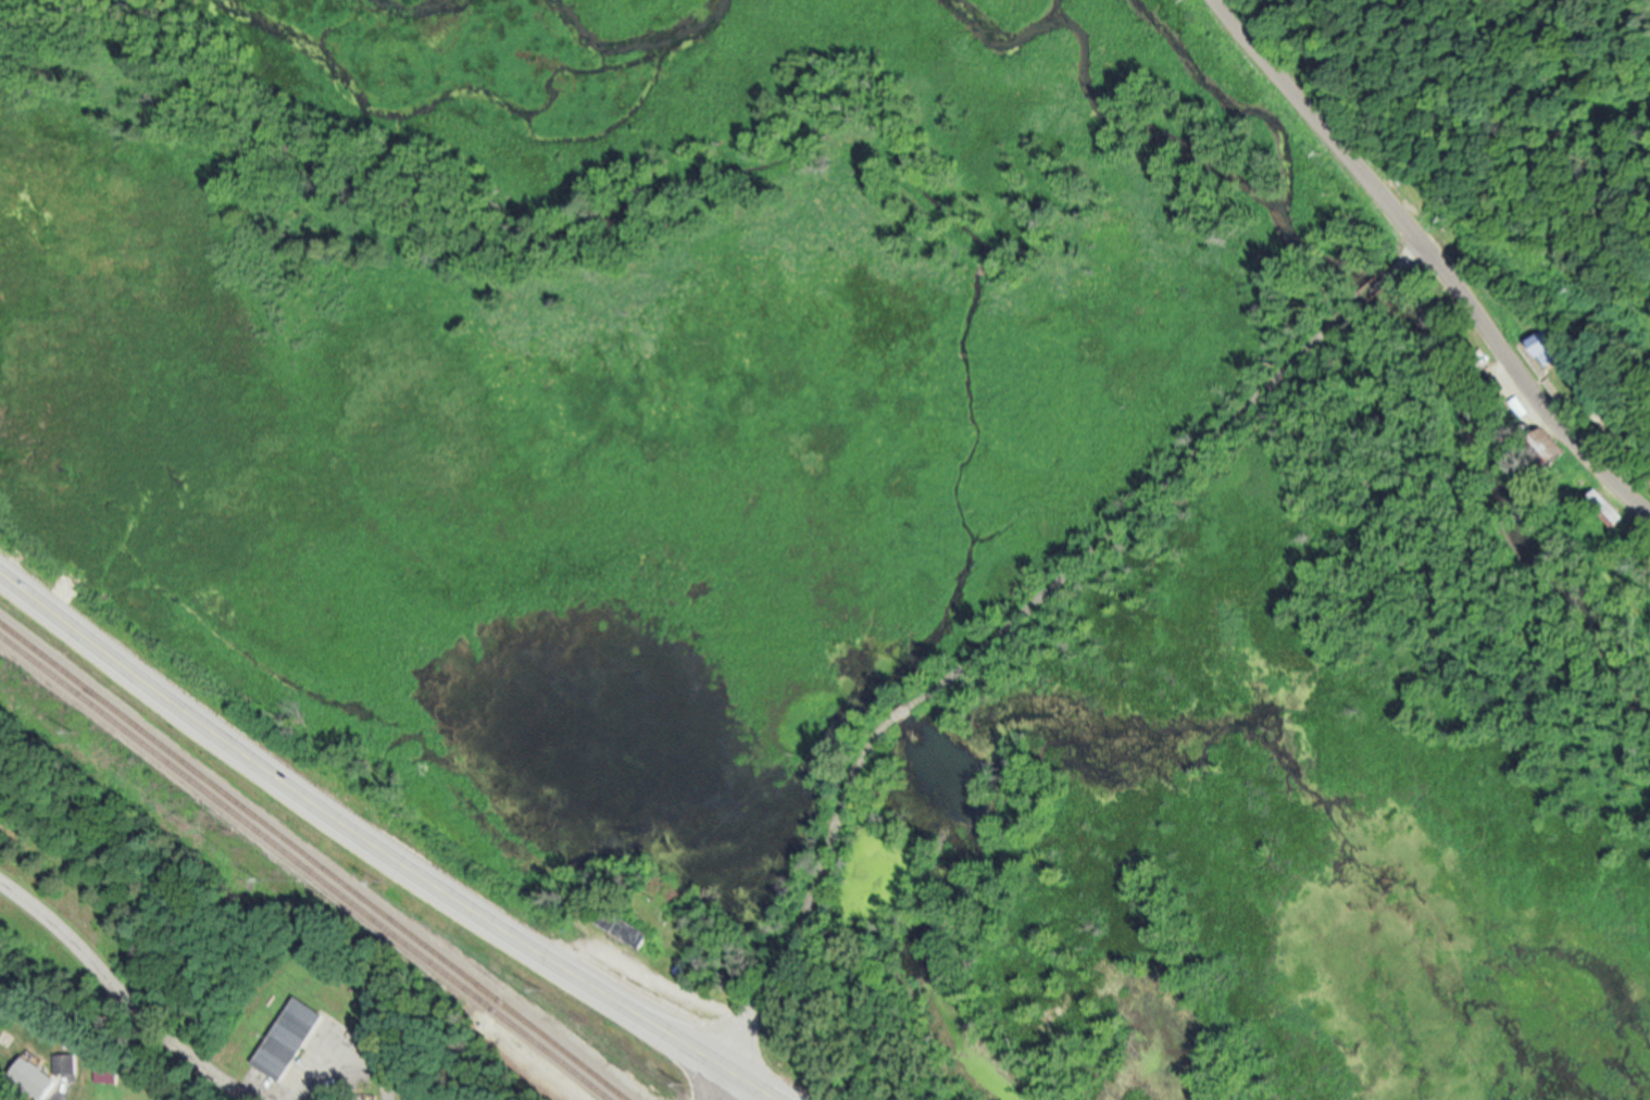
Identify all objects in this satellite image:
road: (1320, 123)
building: (1547, 343)
road: (1527, 387)
building: (1604, 507)
road: (1017, 616)
road: (382, 848)
railway: (314, 860)
railway: (304, 866)
building: (624, 925)
road: (125, 990)
building: (288, 1038)
building: (65, 1062)
building: (34, 1076)
road: (368, 1076)
road: (715, 1083)

